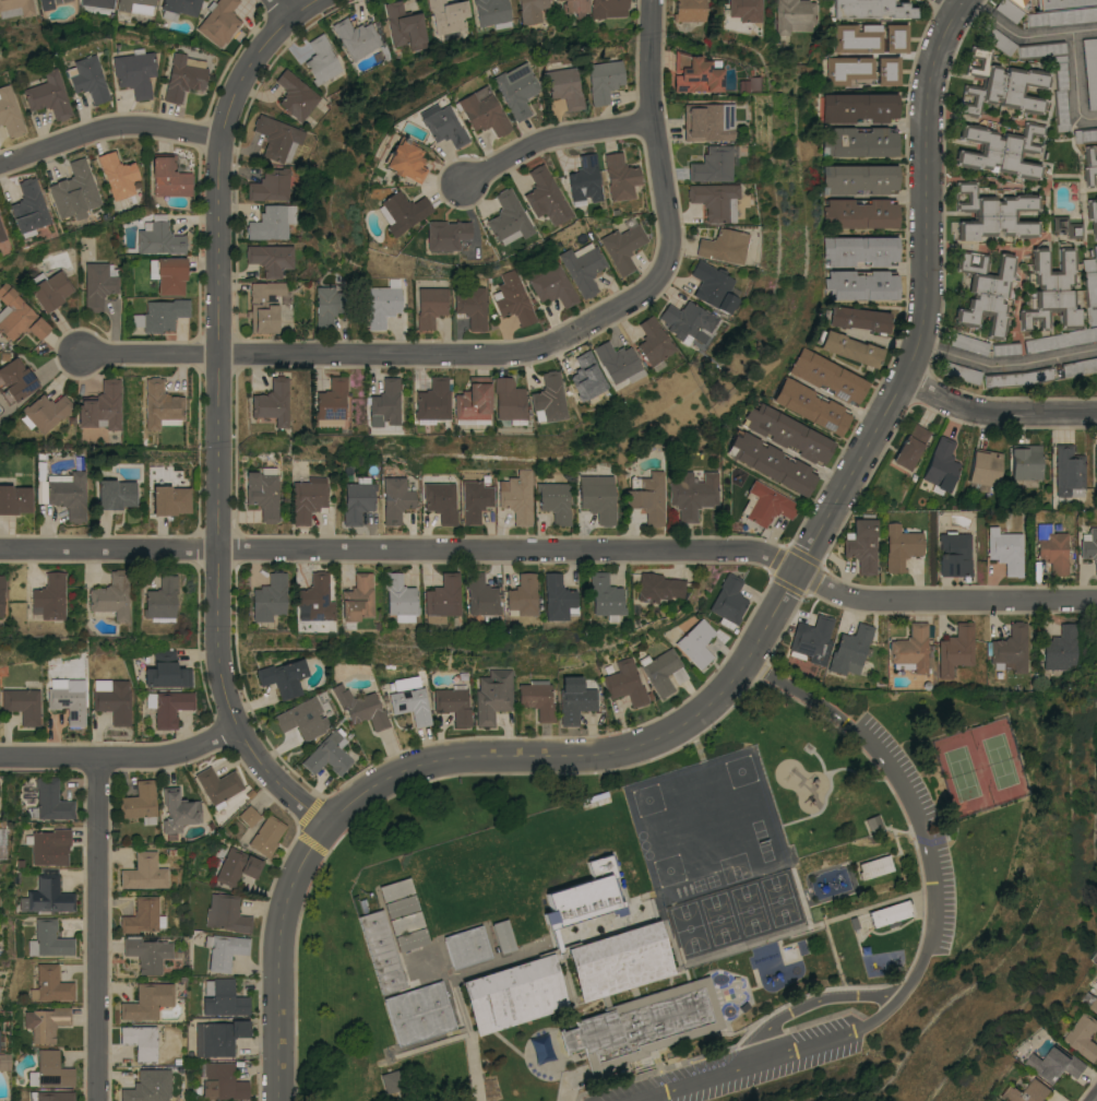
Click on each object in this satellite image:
building: (108, 0)
road: (958, 2)
building: (49, 3)
building: (1062, 3)
building: (1022, 4)
building: (135, 5)
building: (575, 5)
building: (15, 8)
building: (178, 8)
road: (285, 8)
building: (609, 8)
building: (873, 9)
building: (532, 10)
building: (689, 10)
building: (746, 10)
building: (1007, 10)
building: (493, 12)
building: (448, 15)
building: (795, 15)
building: (1061, 16)
building: (218, 21)
building: (404, 24)
road: (1083, 29)
road: (1015, 34)
building: (858, 37)
building: (896, 37)
building: (359, 38)
building: (995, 38)
building: (1040, 49)
building: (322, 60)
building: (850, 70)
building: (889, 70)
building: (1090, 70)
building: (134, 72)
building: (696, 72)
building: (182, 75)
building: (87, 79)
building: (604, 80)
road: (1074, 84)
building: (1001, 85)
building: (565, 87)
building: (516, 88)
building: (1060, 92)
building: (47, 95)
building: (296, 95)
building: (859, 107)
building: (482, 110)
building: (9, 113)
building: (708, 121)
building: (442, 125)
road: (108, 127)
building: (1085, 134)
road: (552, 135)
building: (278, 138)
building: (859, 141)
building: (1001, 150)
building: (405, 159)
building: (713, 164)
building: (1088, 166)
building: (117, 175)
building: (620, 176)
building: (169, 177)
building: (859, 178)
building: (585, 179)
building: (271, 185)
building: (76, 188)
building: (545, 197)
building: (715, 200)
building: (27, 208)
building: (402, 211)
building: (861, 213)
building: (994, 213)
building: (1092, 215)
building: (509, 218)
building: (274, 221)
building: (1068, 227)
building: (446, 234)
building: (1, 235)
building: (158, 237)
building: (724, 246)
building: (622, 247)
building: (861, 250)
building: (1095, 250)
building: (271, 258)
building: (583, 267)
building: (168, 274)
building: (98, 283)
building: (550, 284)
building: (861, 284)
building: (713, 285)
building: (48, 289)
building: (1051, 289)
building: (1089, 289)
building: (985, 292)
road: (927, 297)
building: (513, 298)
building: (264, 305)
building: (382, 305)
building: (326, 306)
building: (430, 306)
building: (472, 306)
building: (17, 315)
building: (160, 315)
building: (859, 318)
building: (689, 321)
building: (1061, 339)
building: (653, 341)
building: (968, 343)
building: (852, 348)
building: (1005, 348)
road: (521, 351)
building: (618, 362)
road: (1006, 364)
building: (1080, 366)
building: (961, 372)
building: (828, 376)
building: (1017, 377)
building: (587, 378)
building: (14, 380)
building: (549, 398)
building: (332, 399)
building: (432, 399)
building: (510, 400)
building: (473, 401)
building: (273, 402)
building: (385, 403)
building: (100, 405)
building: (160, 405)
building: (811, 406)
road: (998, 411)
building: (45, 412)
road: (219, 414)
building: (788, 431)
building: (910, 446)
road: (796, 457)
building: (772, 463)
building: (941, 464)
building: (1026, 464)
building: (985, 466)
building: (1095, 466)
building: (1069, 471)
building: (40, 488)
building: (263, 492)
building: (67, 493)
building: (115, 494)
building: (693, 494)
building: (517, 496)
building: (646, 496)
building: (597, 497)
building: (308, 498)
building: (14, 499)
building: (170, 499)
building: (357, 499)
building: (395, 499)
building: (553, 499)
building: (475, 500)
building: (441, 501)
building: (766, 504)
building: (861, 543)
building: (1088, 545)
building: (901, 546)
building: (1051, 547)
road: (401, 549)
building: (1005, 549)
building: (954, 554)
building: (1, 583)
building: (657, 587)
building: (479, 594)
building: (111, 595)
building: (521, 595)
building: (605, 595)
building: (49, 596)
building: (270, 597)
building: (356, 597)
building: (397, 597)
building: (556, 597)
building: (314, 599)
building: (440, 599)
building: (160, 600)
road: (944, 600)
building: (728, 601)
building: (0, 608)
building: (810, 638)
building: (695, 642)
building: (1061, 648)
building: (911, 649)
building: (955, 649)
building: (1010, 649)
building: (850, 650)
building: (166, 670)
building: (663, 671)
building: (283, 677)
building: (624, 683)
building: (492, 695)
building: (537, 698)
building: (112, 699)
building: (68, 701)
building: (574, 701)
building: (453, 702)
building: (22, 703)
building: (410, 705)
building: (168, 706)
building: (360, 707)
building: (299, 720)
building: (327, 754)
road: (122, 756)
road: (593, 756)
park: (978, 768)
building: (217, 784)
building: (50, 801)
building: (139, 801)
building: (178, 810)
building: (248, 815)
building: (585, 815)
building: (873, 822)
building: (591, 831)
building: (266, 834)
building: (47, 844)
building: (236, 866)
building: (874, 866)
building: (143, 872)
park: (881, 877)
building: (395, 889)
building: (46, 896)
building: (577, 899)
building: (400, 905)
building: (226, 913)
building: (890, 913)
building: (142, 915)
building: (405, 923)
road: (98, 928)
road: (928, 933)
building: (501, 936)
building: (49, 939)
building: (410, 939)
building: (466, 946)
building: (225, 949)
building: (381, 950)
building: (147, 952)
building: (416, 956)
road: (279, 959)
building: (421, 972)
building: (50, 984)
building: (514, 994)
building: (224, 998)
building: (634, 998)
building: (147, 1001)
building: (1090, 1001)
road: (806, 1003)
building: (418, 1013)
building: (45, 1022)
building: (1083, 1035)
building: (218, 1037)
building: (140, 1041)
building: (541, 1053)
building: (4, 1061)
building: (1054, 1063)
building: (49, 1069)
building: (391, 1077)
building: (223, 1082)
building: (143, 1087)
building: (1024, 1091)
building: (51, 1096)

